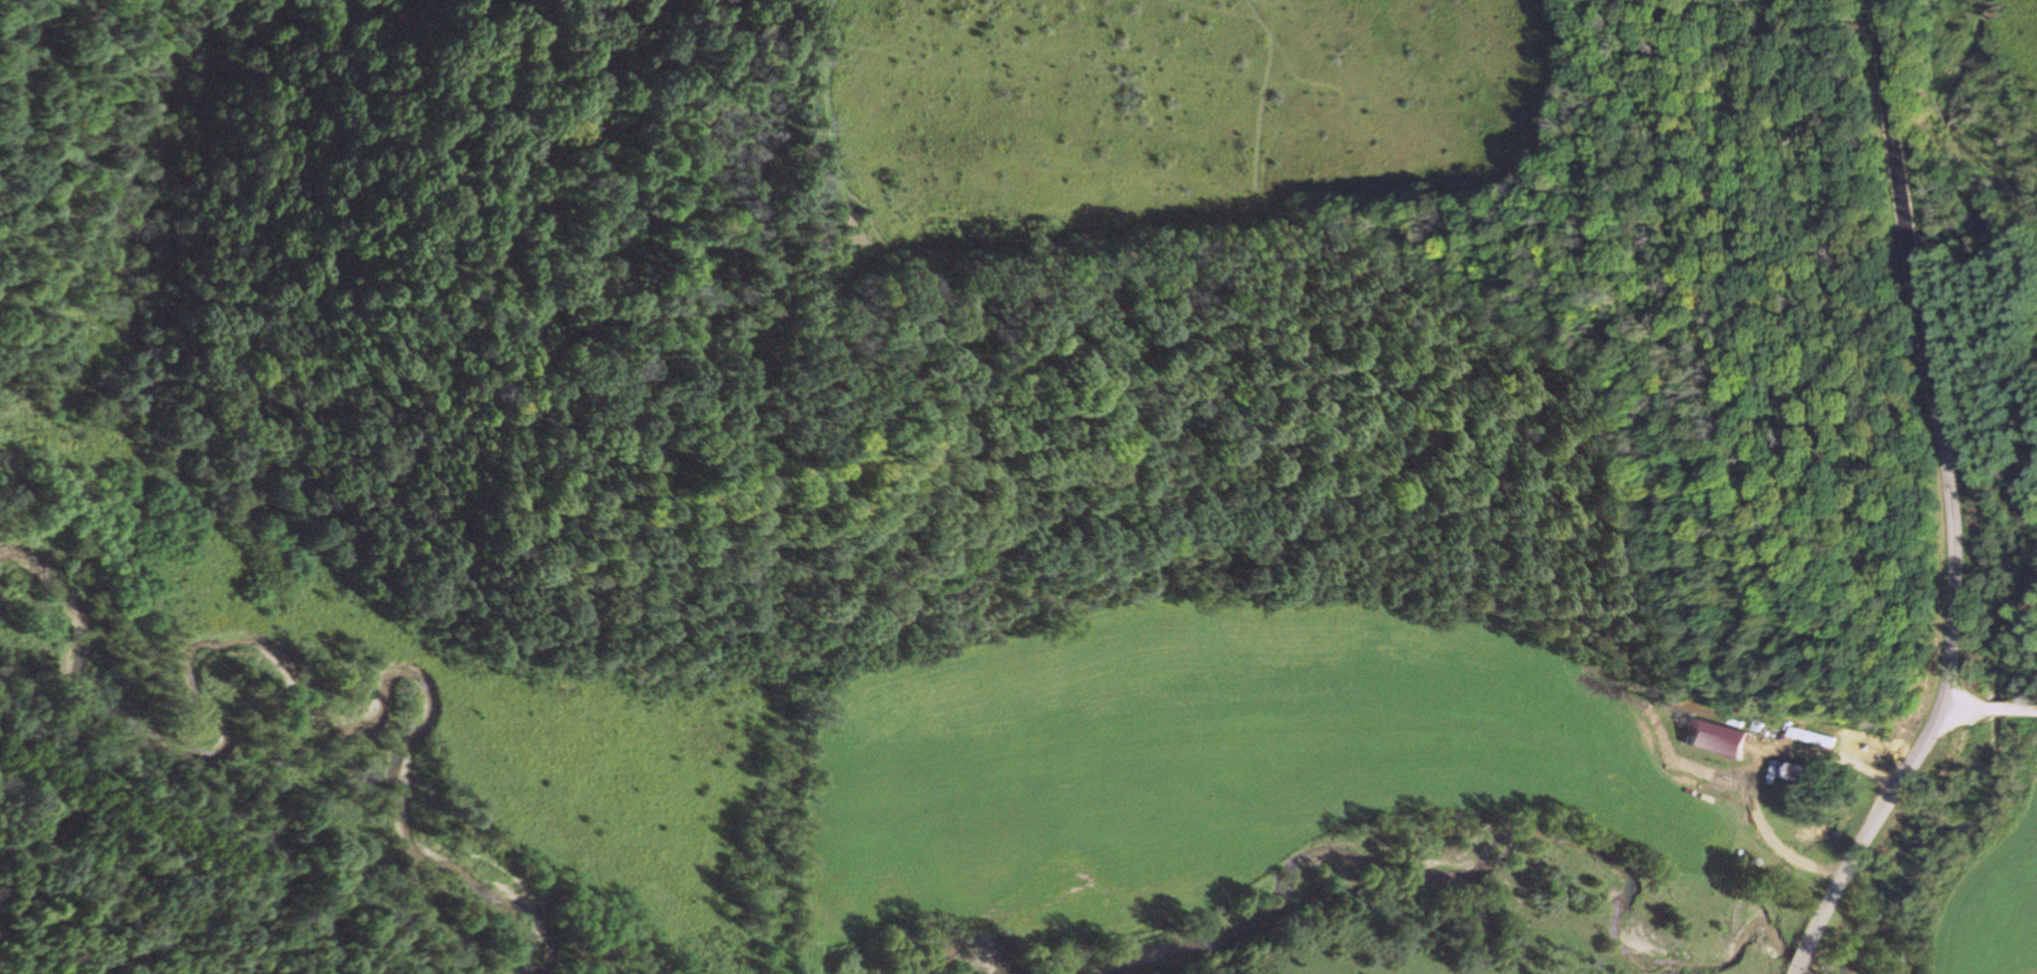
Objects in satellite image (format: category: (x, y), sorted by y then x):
road: (1952, 491)
road: (1989, 707)
building: (1716, 733)
road: (1794, 961)

